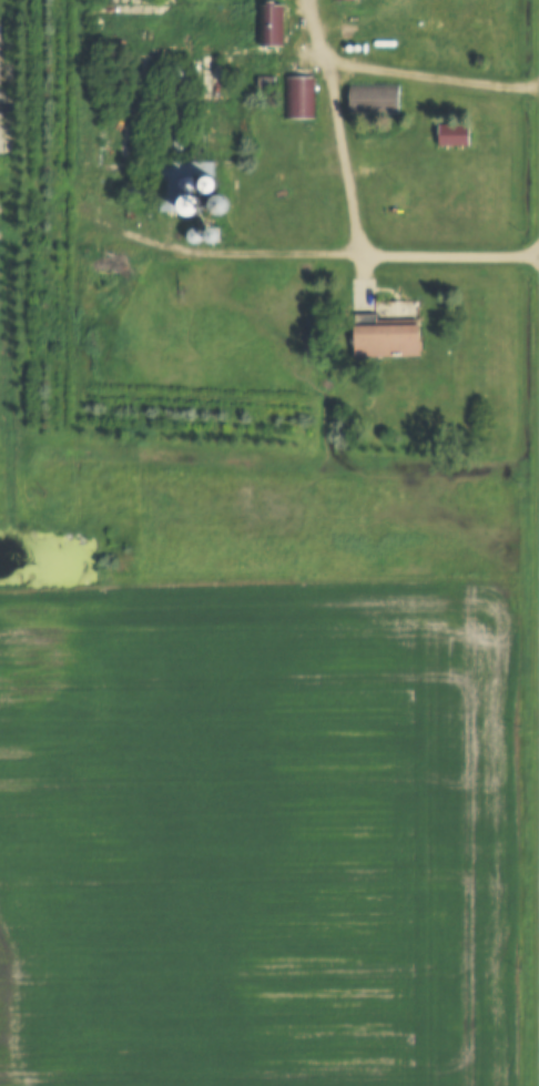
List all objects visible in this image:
building: (342, 1)
building: (269, 27)
storage tank: (383, 45)
storage tank: (348, 50)
storage tank: (357, 50)
storage tank: (364, 50)
building: (264, 83)
road: (431, 83)
building: (296, 99)
building: (374, 101)
building: (180, 134)
road: (342, 151)
road: (363, 176)
building: (210, 187)
silo: (210, 187)
building: (129, 195)
silo: (129, 195)
building: (140, 195)
silo: (140, 195)
building: (218, 206)
silo: (218, 206)
building: (193, 207)
silo: (193, 207)
building: (187, 237)
silo: (187, 237)
building: (204, 237)
silo: (204, 237)
road: (305, 256)
building: (42, 306)
building: (382, 338)

